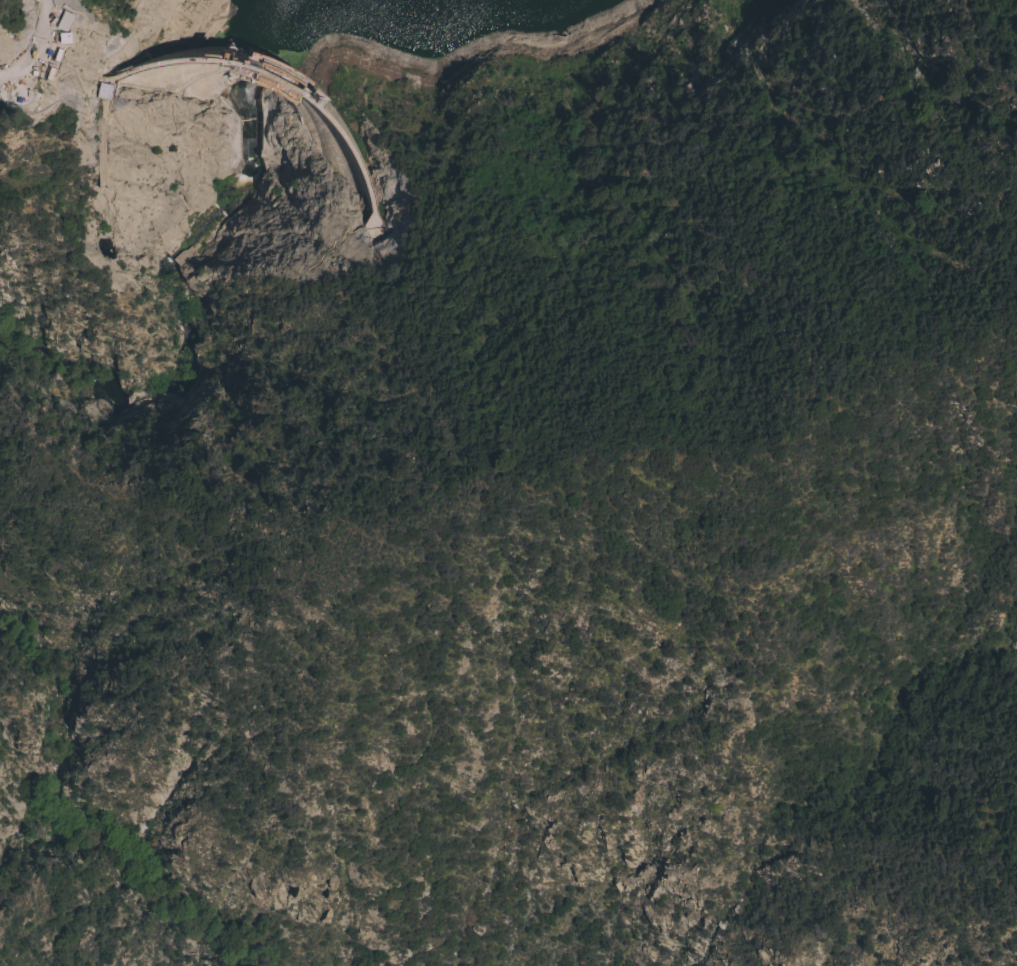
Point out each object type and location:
building: (64, 21)
building: (58, 22)
road: (38, 49)
dam: (282, 85)
building: (17, 88)
building: (104, 91)

